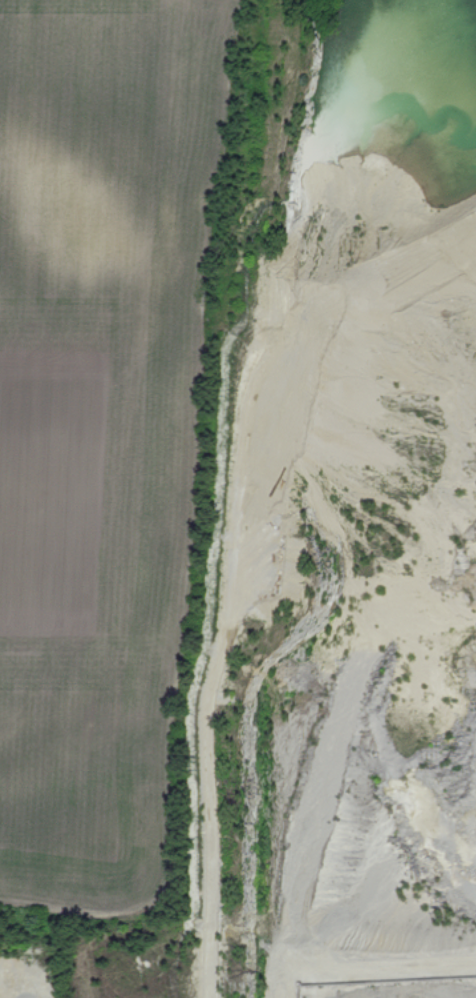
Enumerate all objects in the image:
quarry: (326, 572)

